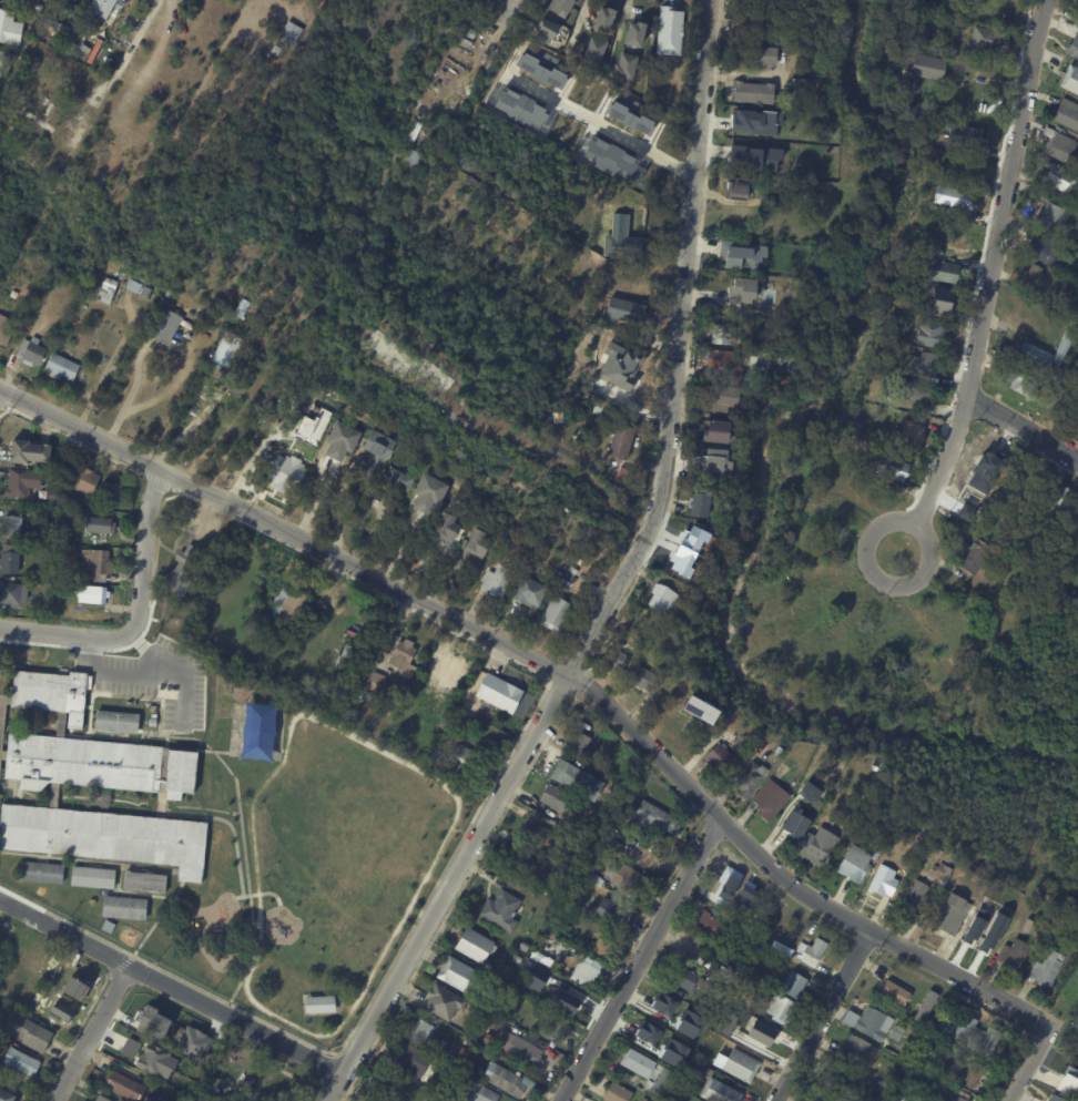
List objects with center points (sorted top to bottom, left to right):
building: (101, 7)
building: (560, 7)
building: (40, 8)
road: (508, 9)
building: (602, 18)
building: (750, 26)
building: (11, 28)
building: (546, 28)
building: (669, 29)
building: (287, 32)
building: (634, 32)
building: (988, 41)
building: (1074, 45)
building: (274, 49)
building: (796, 49)
building: (592, 51)
building: (755, 55)
building: (3, 58)
building: (60, 64)
building: (624, 65)
building: (926, 68)
building: (1070, 79)
building: (752, 93)
building: (40, 104)
building: (1067, 113)
road: (599, 118)
building: (743, 121)
building: (769, 122)
building: (964, 137)
building: (1060, 145)
building: (609, 159)
building: (773, 163)
building: (800, 166)
building: (116, 169)
building: (1059, 179)
building: (736, 186)
building: (1041, 194)
building: (950, 195)
building: (114, 197)
building: (766, 200)
building: (1052, 216)
building: (1077, 238)
building: (627, 245)
building: (1044, 249)
building: (728, 254)
road: (993, 265)
building: (753, 266)
building: (938, 271)
building: (1043, 279)
building: (140, 288)
building: (744, 289)
building: (108, 290)
building: (939, 298)
building: (240, 307)
building: (623, 310)
building: (898, 319)
building: (171, 328)
building: (7, 330)
building: (723, 333)
building: (928, 333)
road: (675, 347)
building: (763, 347)
building: (1028, 347)
building: (225, 350)
building: (34, 353)
building: (732, 363)
building: (922, 364)
building: (63, 368)
building: (782, 379)
building: (1021, 384)
building: (916, 390)
building: (720, 398)
building: (863, 409)
building: (876, 414)
building: (314, 421)
road: (190, 426)
road: (1023, 428)
building: (714, 431)
building: (909, 436)
building: (730, 438)
building: (620, 440)
building: (339, 442)
building: (376, 445)
building: (31, 451)
building: (985, 461)
building: (887, 467)
building: (285, 473)
building: (623, 477)
building: (87, 480)
building: (397, 480)
building: (980, 482)
building: (996, 482)
building: (19, 483)
building: (1021, 485)
building: (114, 492)
building: (427, 493)
building: (990, 495)
building: (1058, 499)
road: (336, 504)
building: (698, 504)
building: (1072, 524)
building: (103, 526)
building: (16, 527)
building: (446, 527)
road: (284, 530)
building: (696, 532)
building: (475, 543)
road: (865, 543)
building: (975, 557)
building: (675, 559)
building: (13, 560)
building: (101, 563)
building: (190, 569)
building: (572, 570)
building: (496, 580)
building: (52, 582)
building: (526, 592)
building: (16, 593)
building: (95, 594)
building: (659, 598)
building: (293, 603)
road: (140, 614)
building: (553, 614)
building: (672, 619)
building: (267, 631)
building: (353, 652)
building: (404, 654)
building: (614, 659)
building: (441, 661)
building: (348, 662)
road: (135, 667)
building: (347, 669)
building: (456, 671)
building: (642, 679)
building: (378, 681)
parking lot: (157, 682)
road: (184, 690)
building: (410, 690)
building: (51, 692)
building: (501, 693)
building: (151, 707)
building: (699, 708)
building: (152, 715)
building: (115, 721)
building: (152, 721)
building: (60, 723)
building: (746, 734)
building: (479, 736)
building: (579, 746)
building: (718, 757)
building: (466, 760)
building: (790, 760)
building: (98, 764)
building: (577, 779)
building: (749, 779)
building: (808, 792)
building: (552, 797)
building: (771, 797)
building: (652, 817)
building: (532, 834)
building: (792, 834)
building: (104, 836)
building: (815, 846)
building: (566, 855)
road: (462, 862)
building: (538, 862)
building: (891, 863)
building: (853, 865)
building: (40, 871)
building: (942, 875)
building: (91, 876)
road: (785, 878)
building: (553, 879)
building: (623, 879)
building: (735, 879)
building: (143, 881)
building: (882, 881)
building: (916, 896)
building: (721, 898)
building: (123, 907)
building: (499, 910)
building: (609, 914)
building: (950, 915)
building: (709, 926)
building: (111, 927)
building: (984, 939)
building: (601, 945)
building: (472, 946)
building: (525, 947)
building: (780, 949)
building: (810, 952)
building: (1013, 955)
building: (516, 958)
building: (540, 959)
road: (642, 959)
building: (1046, 968)
building: (584, 971)
building: (715, 971)
building: (457, 976)
building: (65, 977)
building: (681, 978)
building: (792, 985)
road: (171, 987)
building: (741, 989)
building: (893, 992)
building: (569, 1000)
building: (508, 1002)
building: (318, 1003)
building: (441, 1003)
building: (489, 1006)
building: (671, 1008)
building: (709, 1008)
building: (779, 1008)
building: (54, 1013)
road: (823, 1015)
building: (848, 1019)
building: (152, 1020)
building: (552, 1023)
building: (746, 1024)
building: (873, 1024)
building: (419, 1030)
building: (31, 1032)
road: (91, 1033)
building: (692, 1033)
building: (895, 1033)
building: (649, 1034)
building: (969, 1036)
building: (487, 1040)
building: (190, 1041)
building: (462, 1050)
building: (481, 1050)
building: (519, 1051)
building: (856, 1051)
building: (927, 1053)
building: (664, 1058)
building: (409, 1060)
building: (24, 1062)
building: (637, 1063)
road: (1026, 1063)
building: (735, 1066)
building: (963, 1073)
road: (342, 1075)
building: (253, 1077)
building: (506, 1081)
building: (837, 1081)
building: (929, 1081)
building: (1067, 1081)
building: (282, 1082)
building: (662, 1083)
building: (126, 1085)
building: (680, 1087)
building: (464, 1088)
building: (684, 1089)
building: (716, 1092)
building: (617, 1093)
building: (480, 1094)
building: (677, 1094)
building: (7, 1095)
building: (959, 1097)
building: (820, 1098)
building: (1052, 1098)
building: (103, 1099)
building: (369, 1099)
building: (644, 1100)

